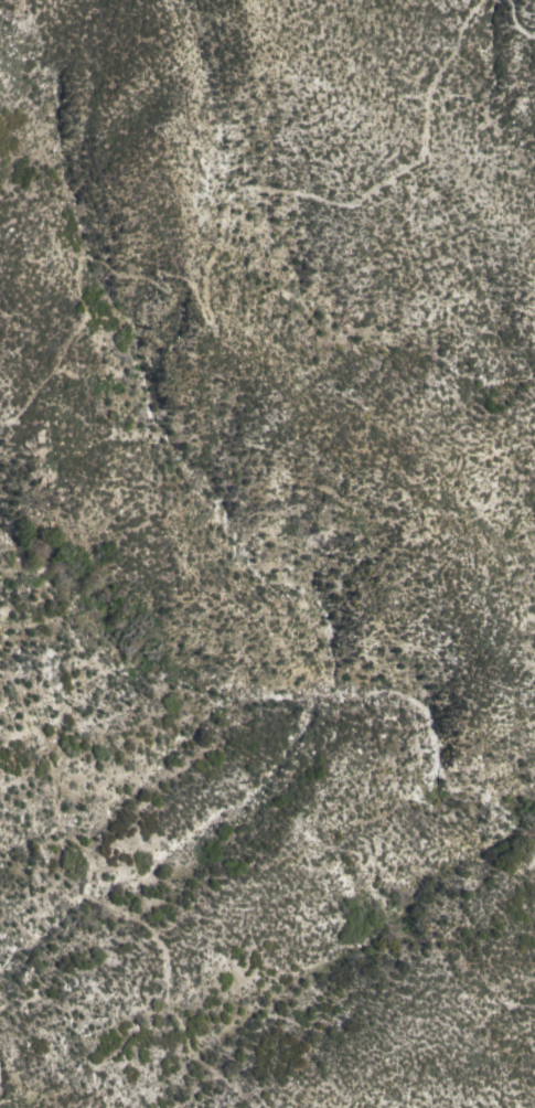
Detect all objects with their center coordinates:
road: (514, 23)
road: (206, 268)
road: (100, 905)
road: (0, 1055)

